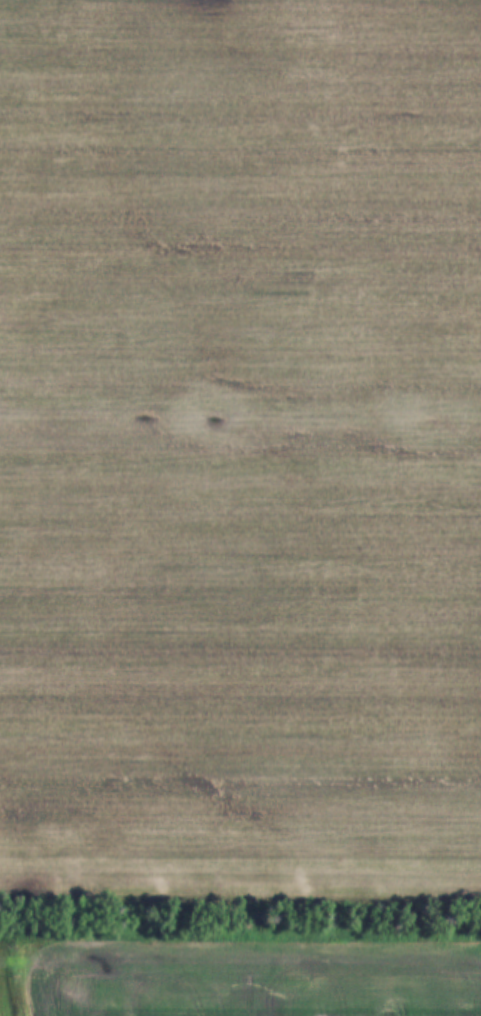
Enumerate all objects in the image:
crop: (240, 452)
crop: (334, 960)

